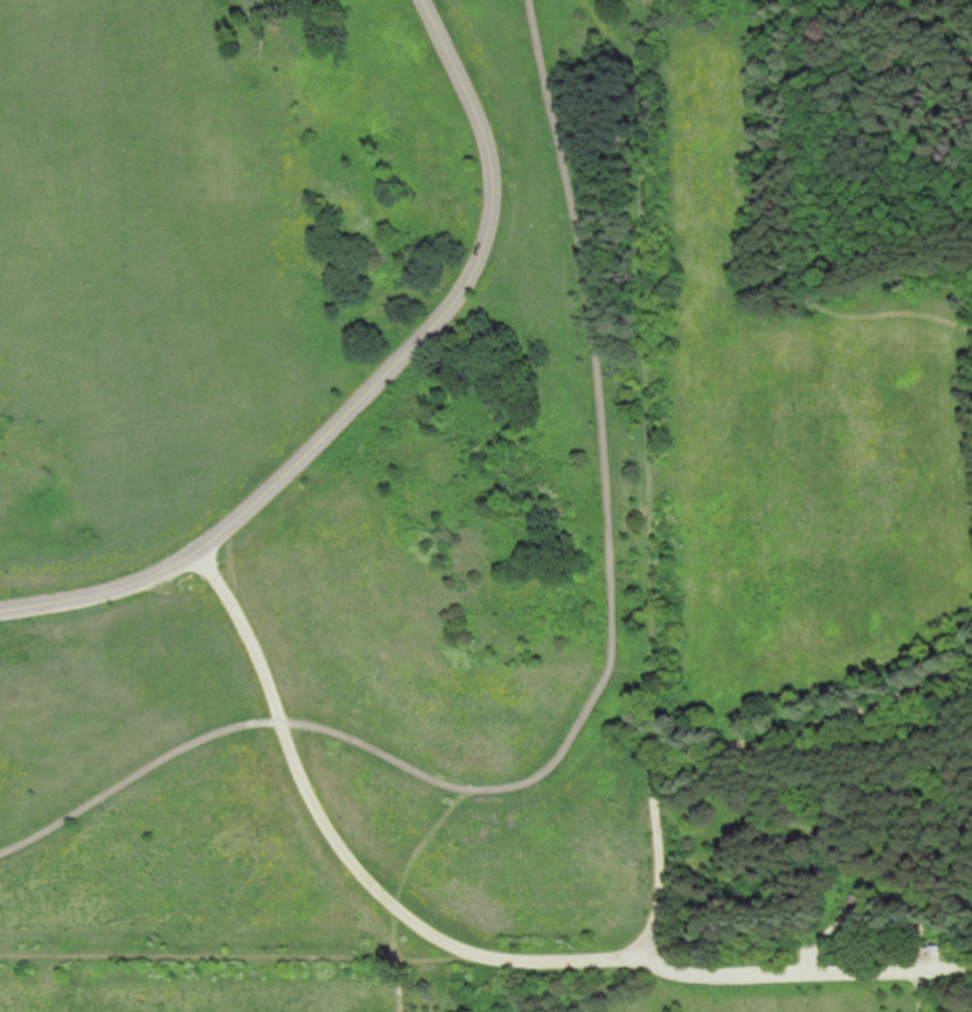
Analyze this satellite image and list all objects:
road: (805, 195)
road: (642, 310)
road: (374, 391)
park: (486, 506)
road: (603, 690)
road: (655, 713)
road: (730, 753)
road: (582, 768)
road: (459, 801)
road: (393, 902)
building: (854, 904)
road: (922, 914)
building: (934, 951)
road: (474, 953)
road: (228, 955)
parking lot: (809, 957)

